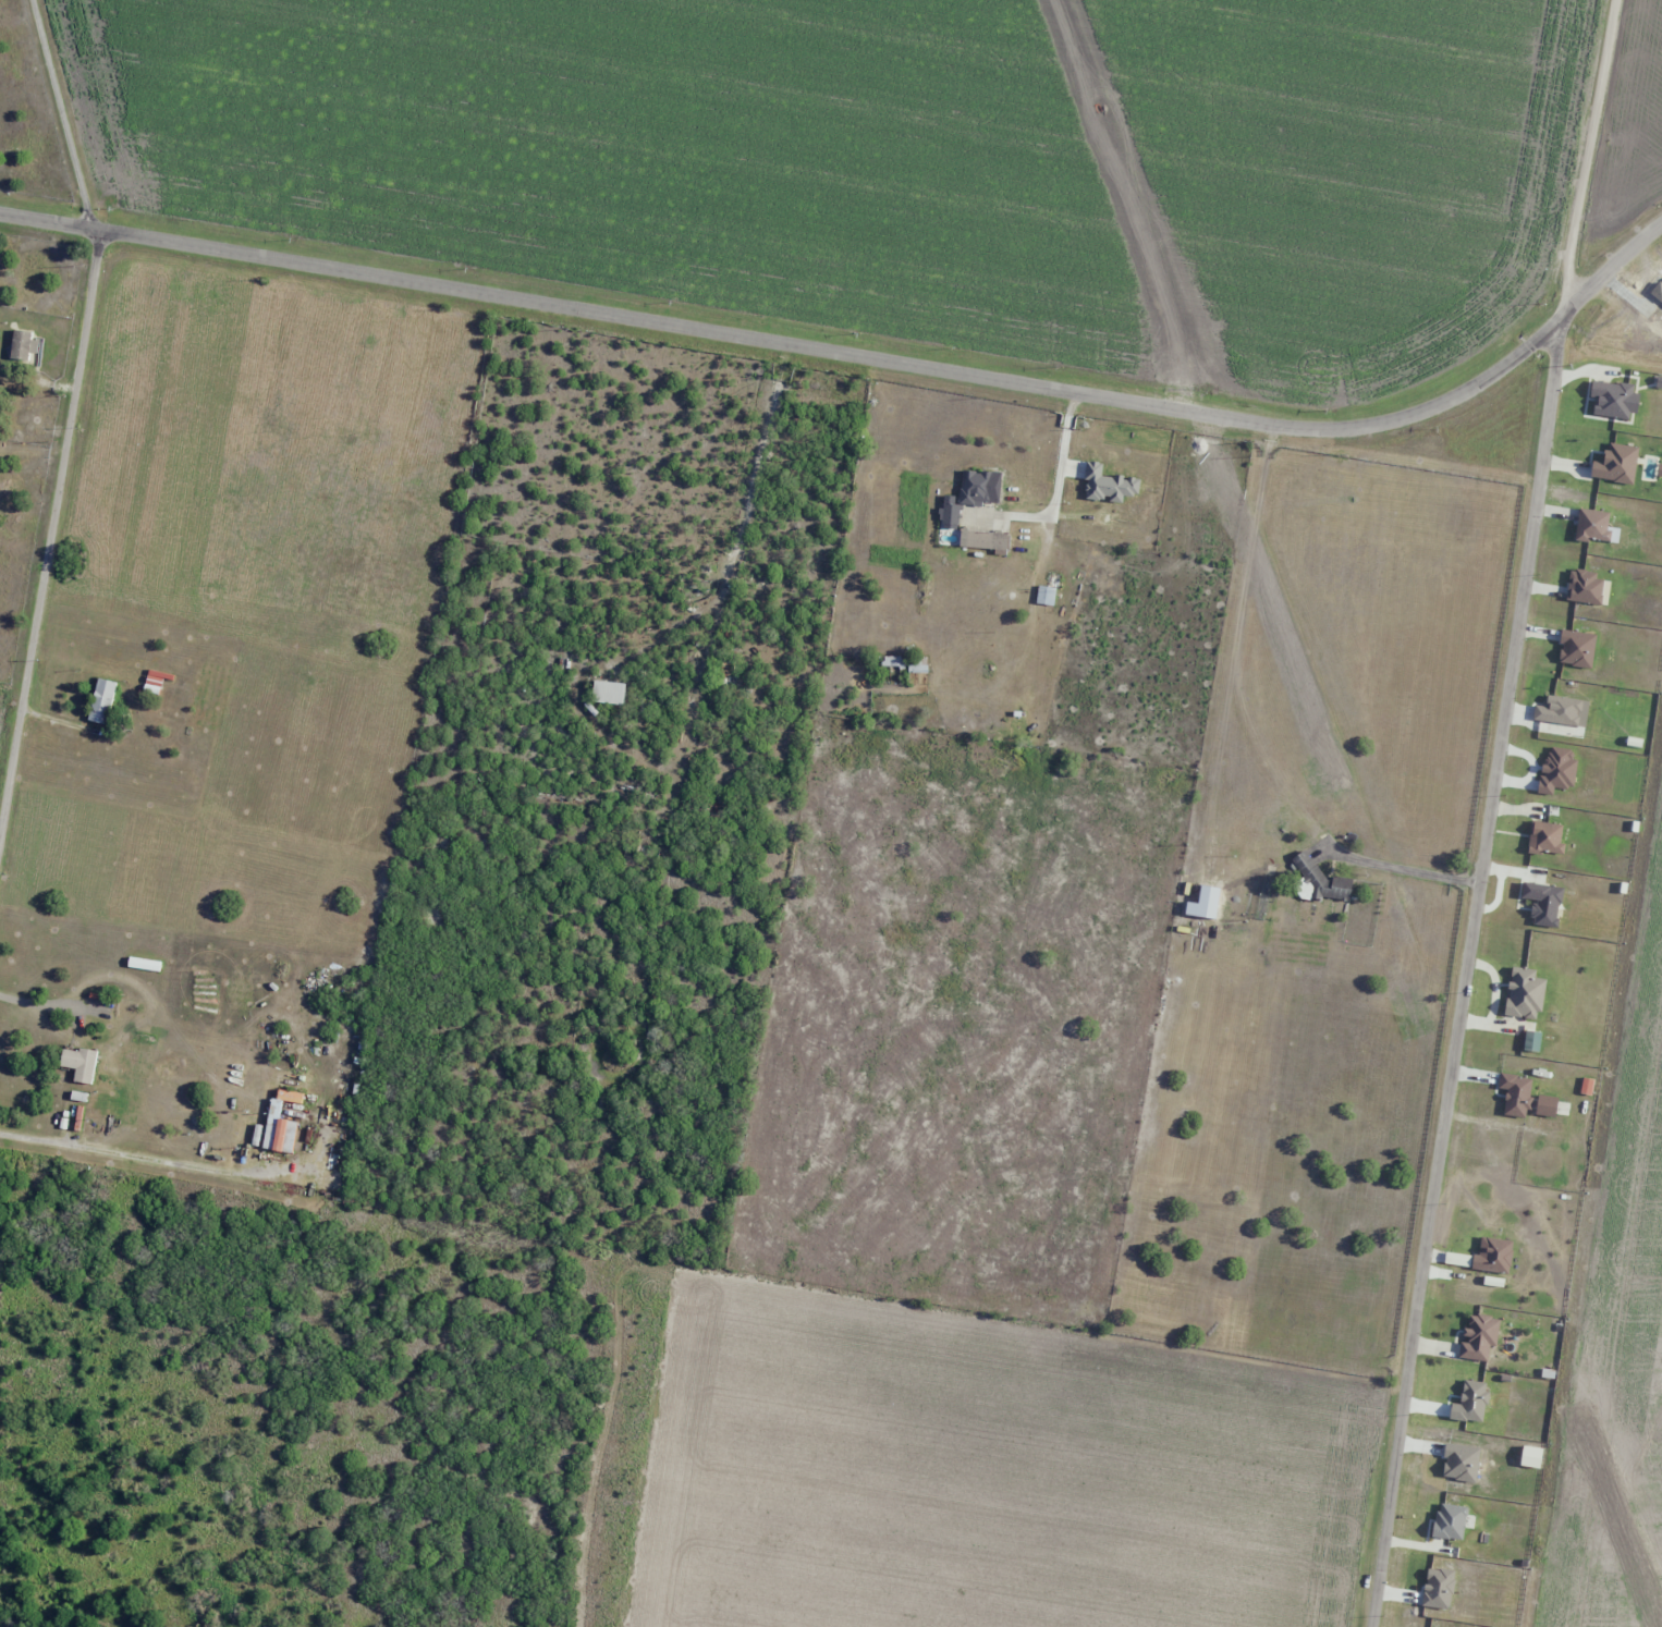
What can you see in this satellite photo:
crop: (1632, 126)
building: (37, 354)
road: (861, 362)
building: (975, 488)
building: (950, 514)
building: (977, 540)
road: (62, 655)
building: (903, 663)
building: (606, 693)
building: (100, 701)
road: (1494, 812)
building: (84, 1066)
building: (290, 1096)
building: (277, 1130)
crop: (1568, 1402)

